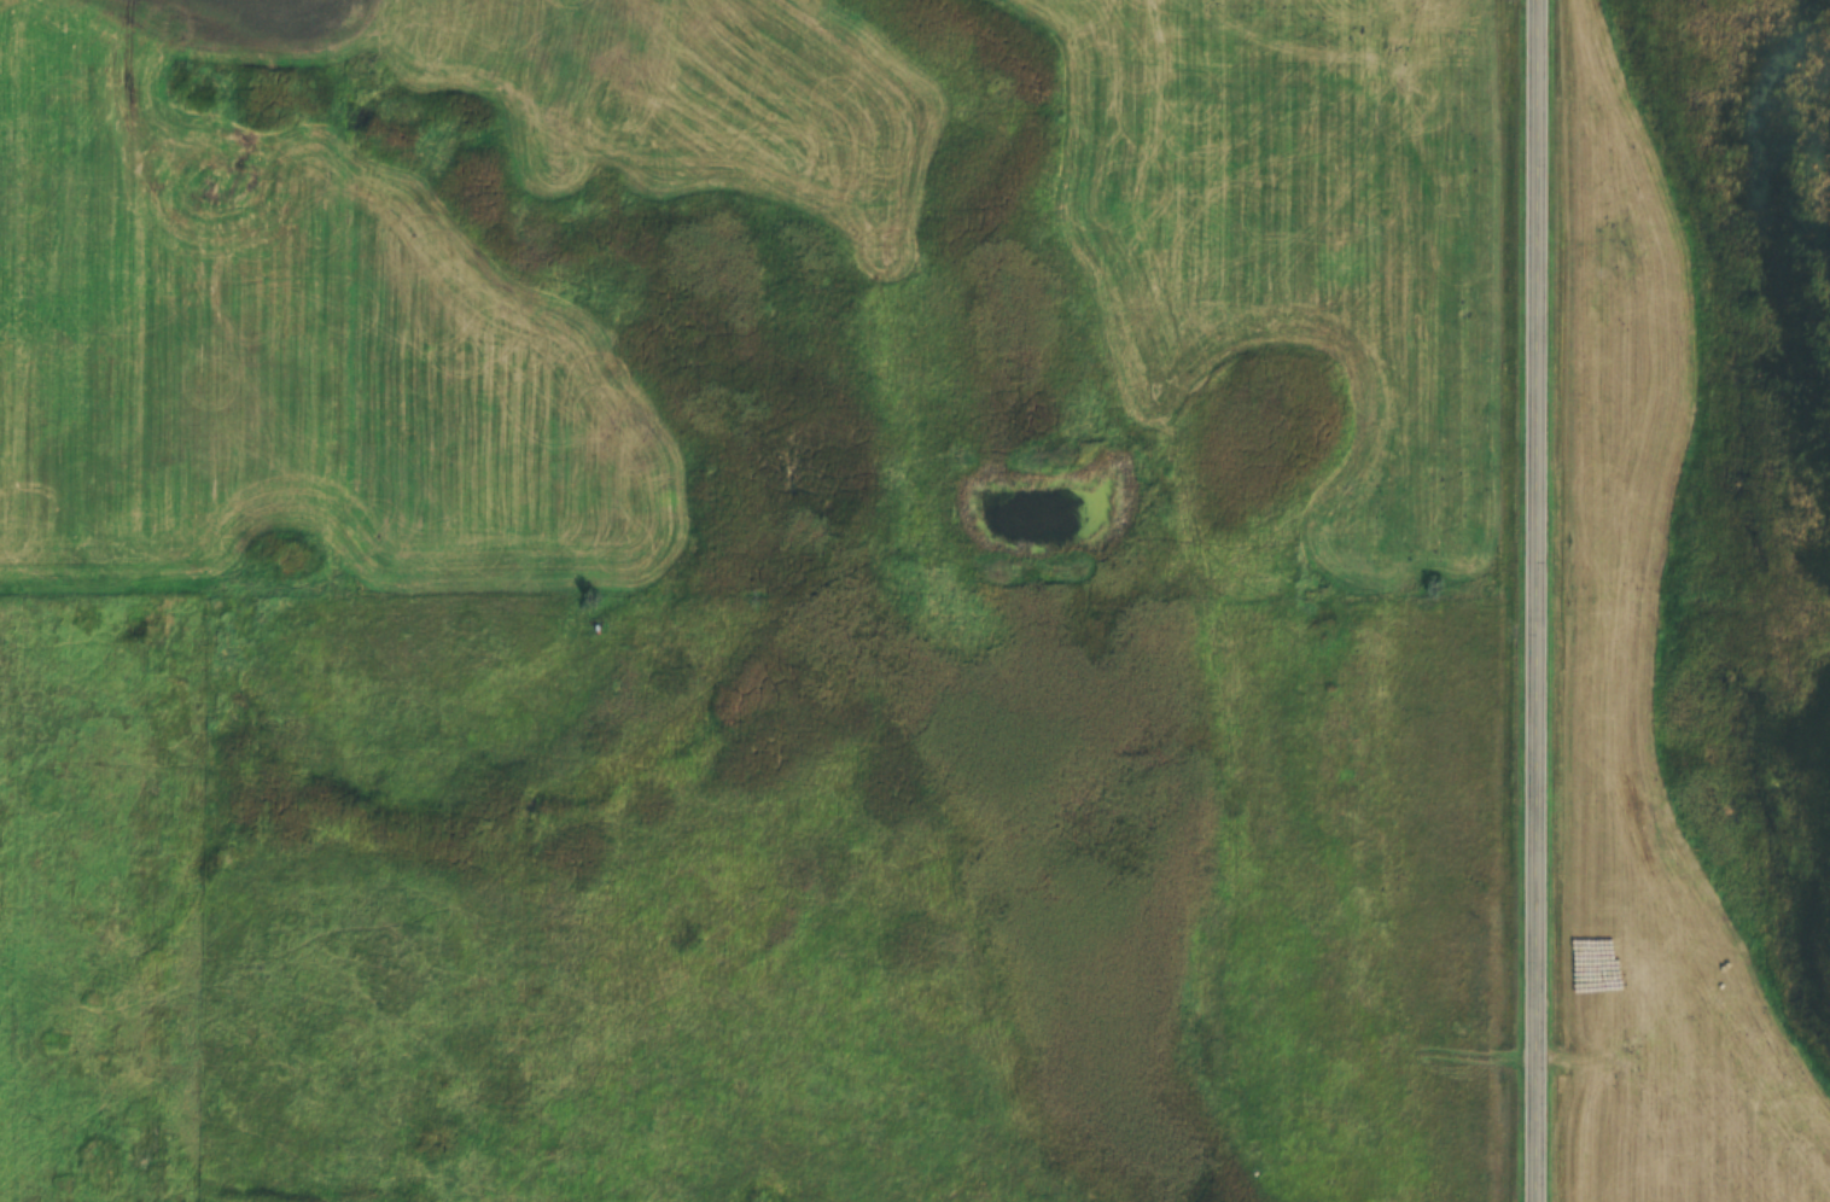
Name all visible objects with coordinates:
road: (1533, 601)

